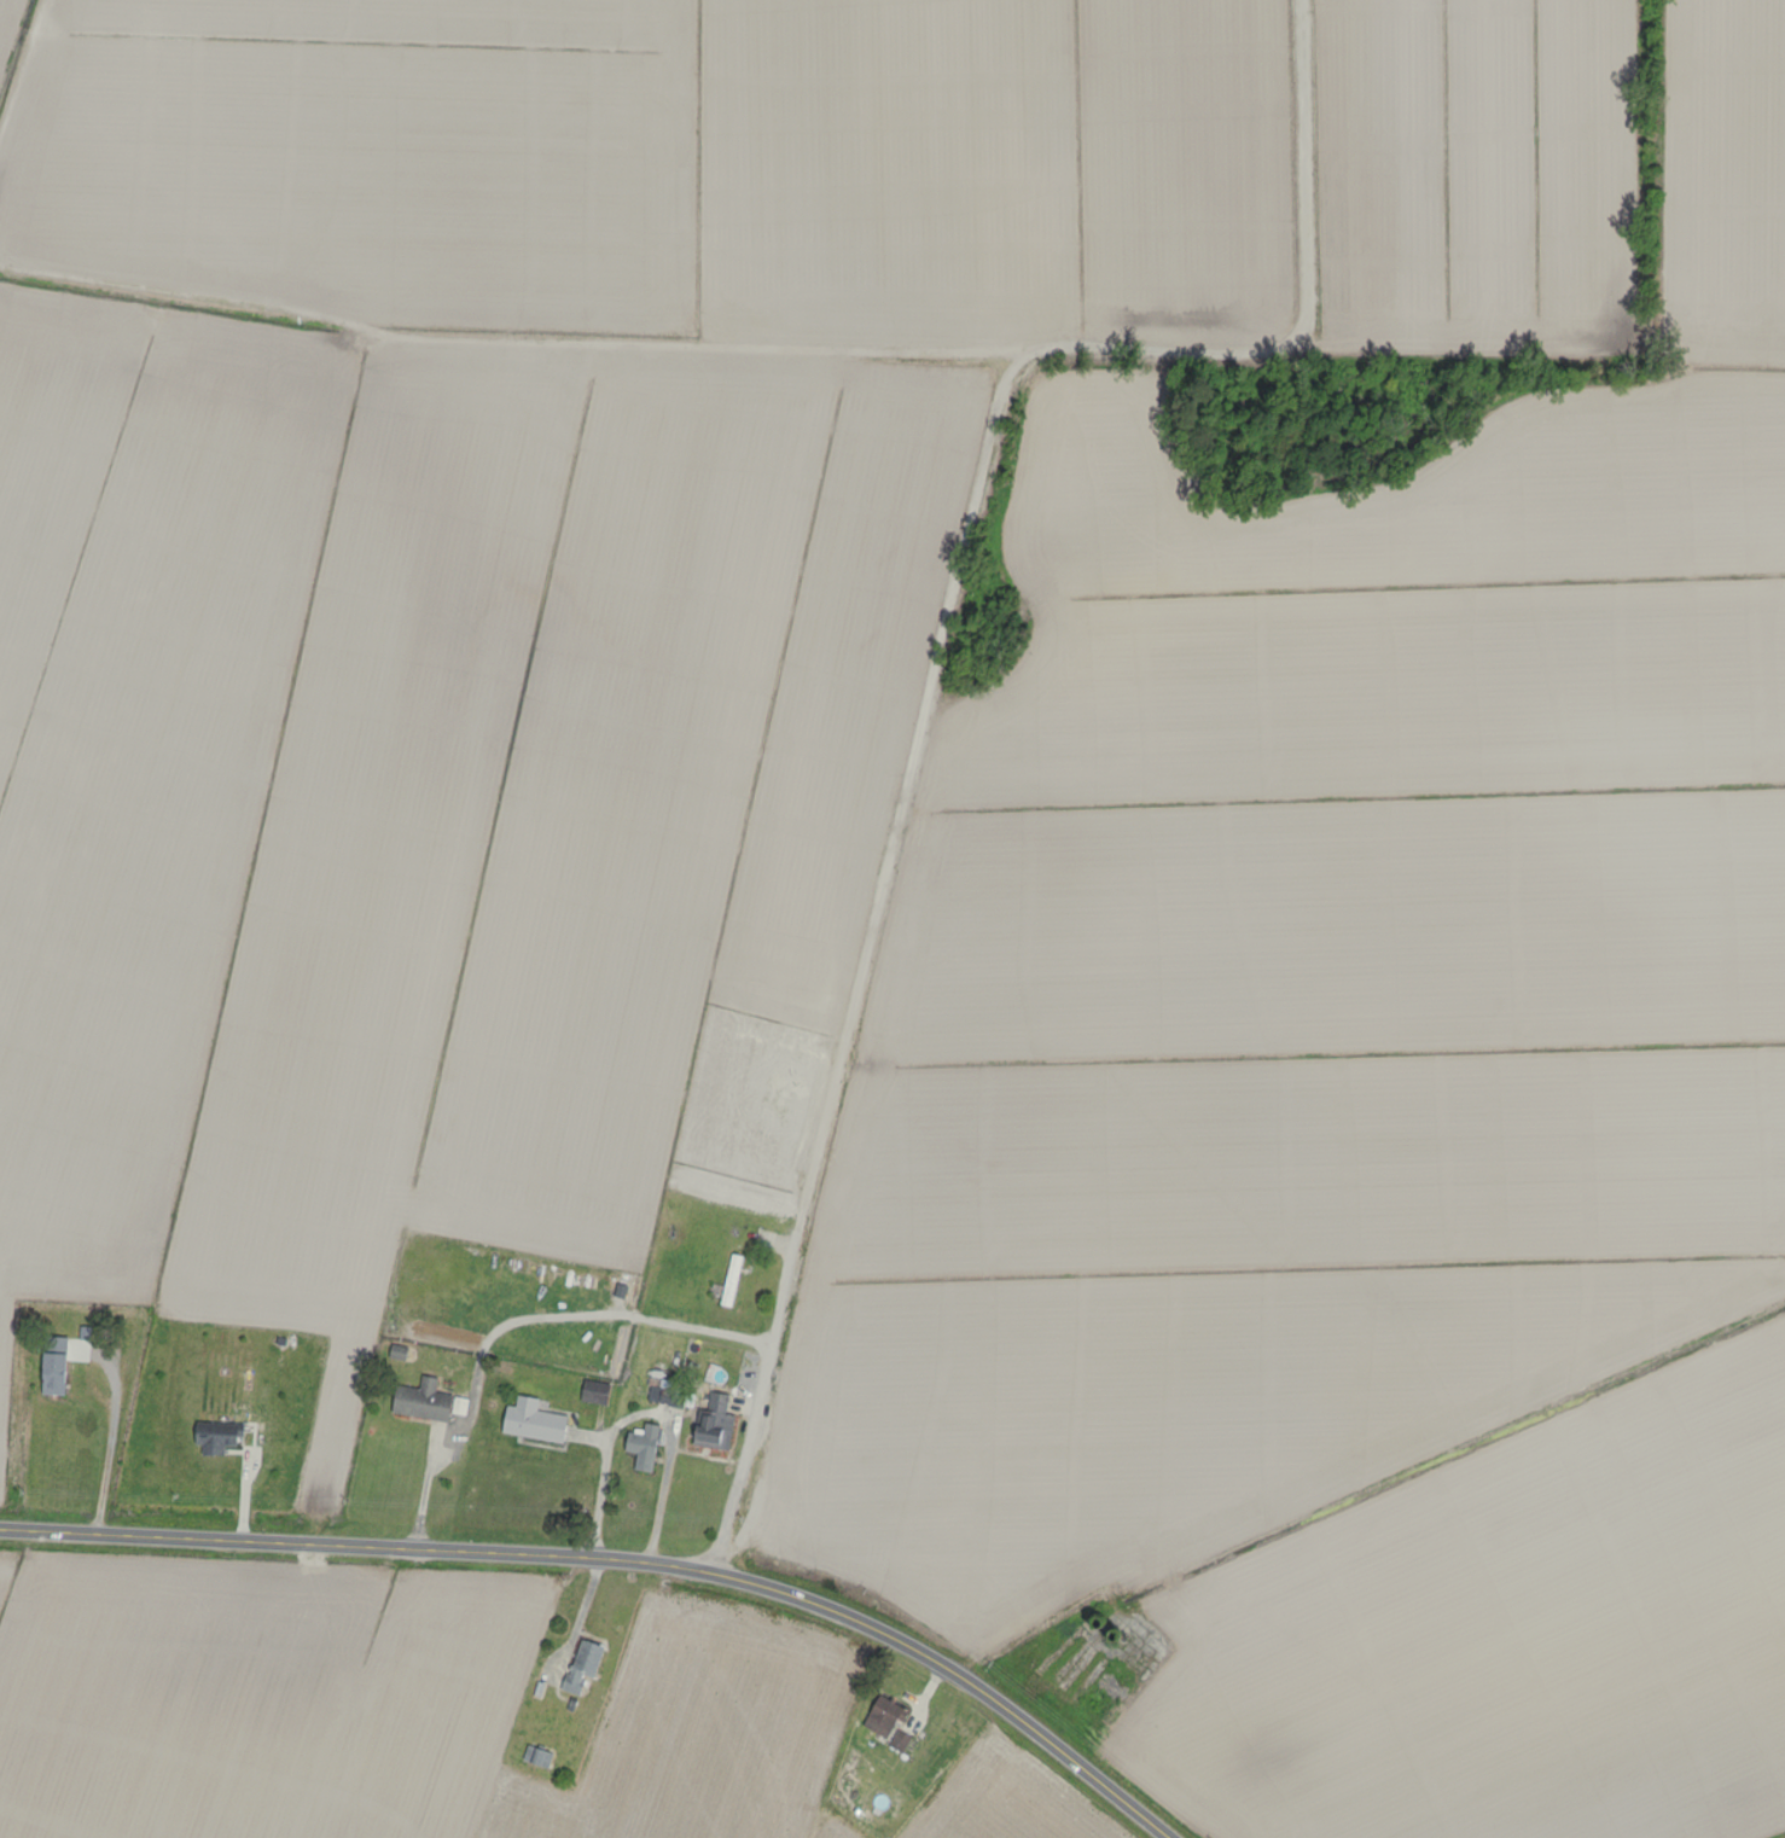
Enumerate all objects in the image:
building: (729, 1279)
road: (628, 1315)
building: (51, 1365)
building: (592, 1391)
building: (664, 1391)
building: (420, 1400)
building: (530, 1420)
building: (711, 1423)
building: (215, 1435)
building: (640, 1446)
road: (114, 1447)
road: (623, 1558)
building: (578, 1665)
building: (884, 1721)
building: (535, 1756)

